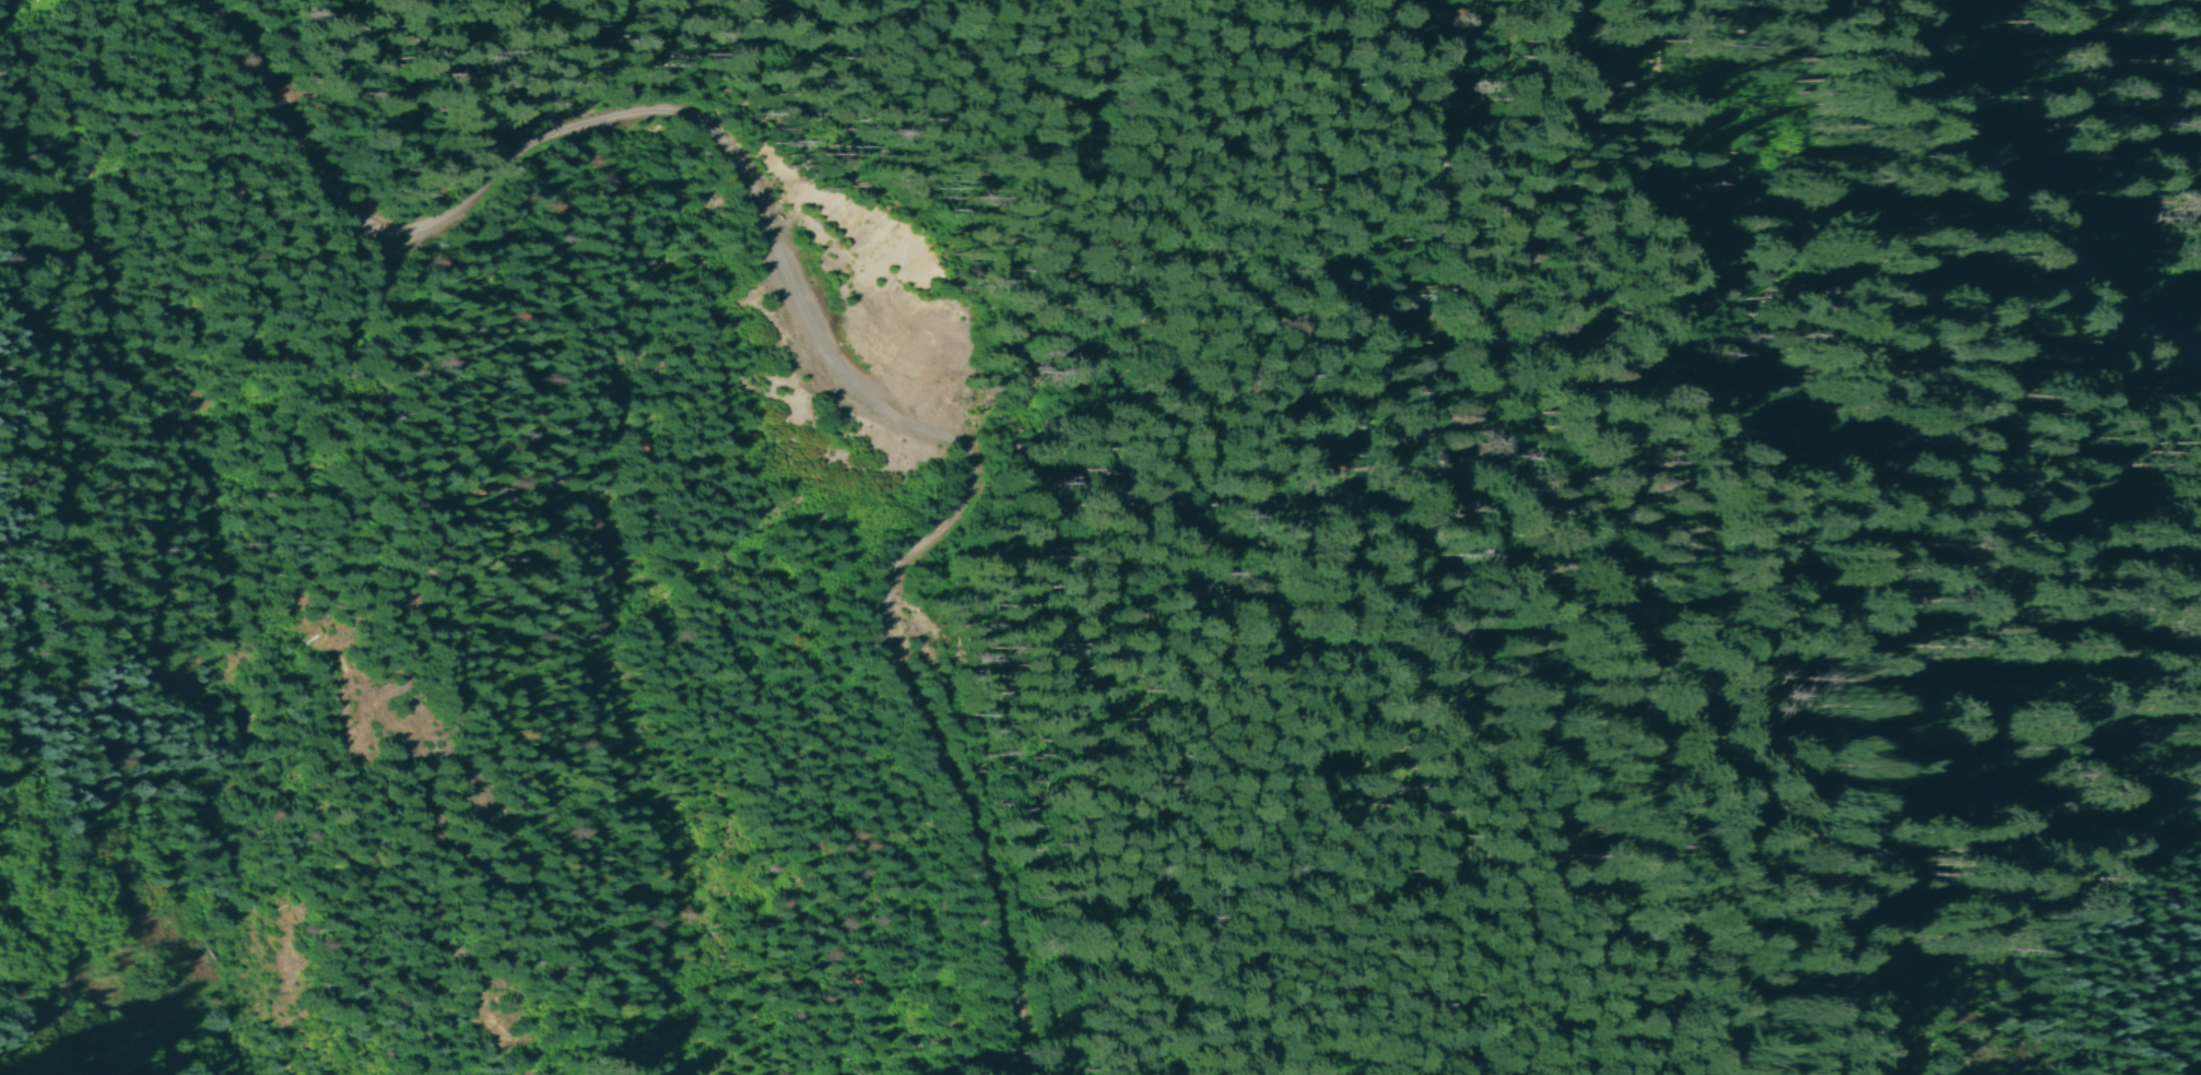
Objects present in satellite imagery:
road: (2018, 198)
road: (802, 329)
road: (1398, 536)
road: (2177, 598)

